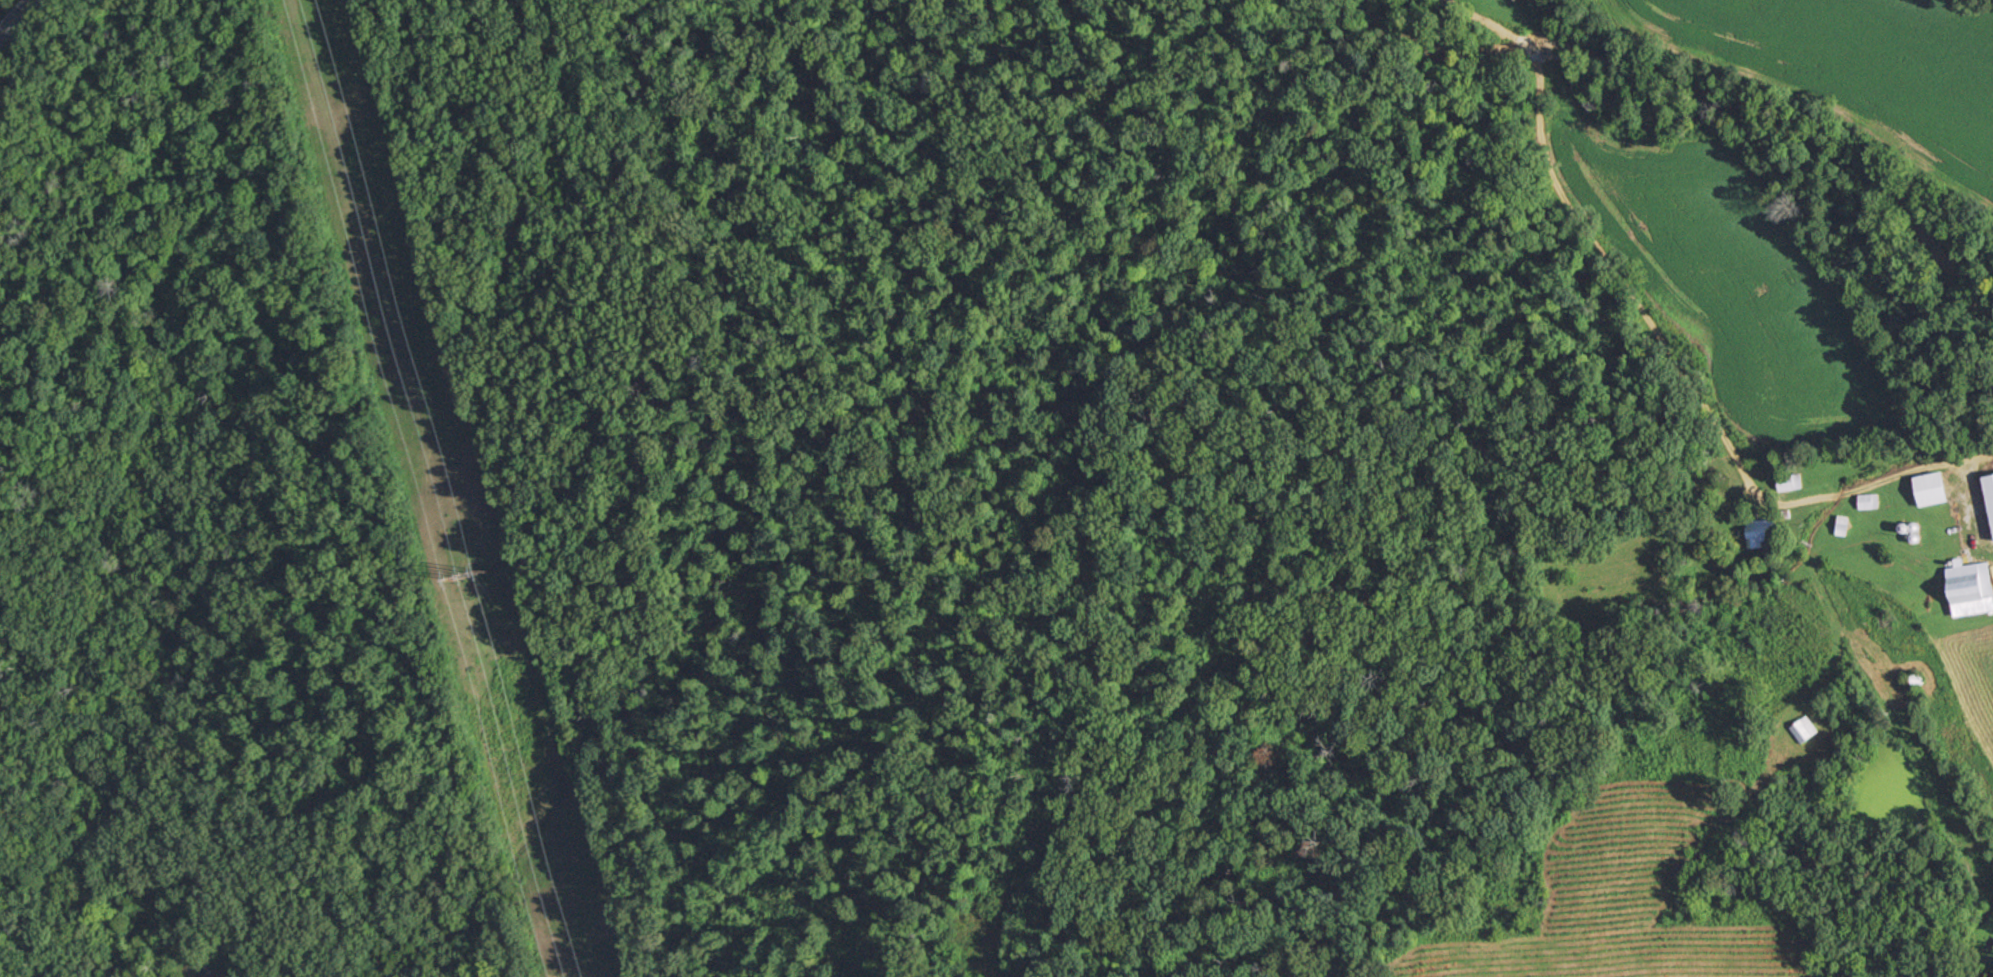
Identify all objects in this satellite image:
road: (14, 16)
road: (1646, 329)
building: (1789, 482)
building: (1931, 489)
building: (1990, 495)
building: (1868, 501)
building: (1759, 532)
power tower: (476, 588)
building: (1970, 588)
building: (1915, 681)
building: (1804, 729)

